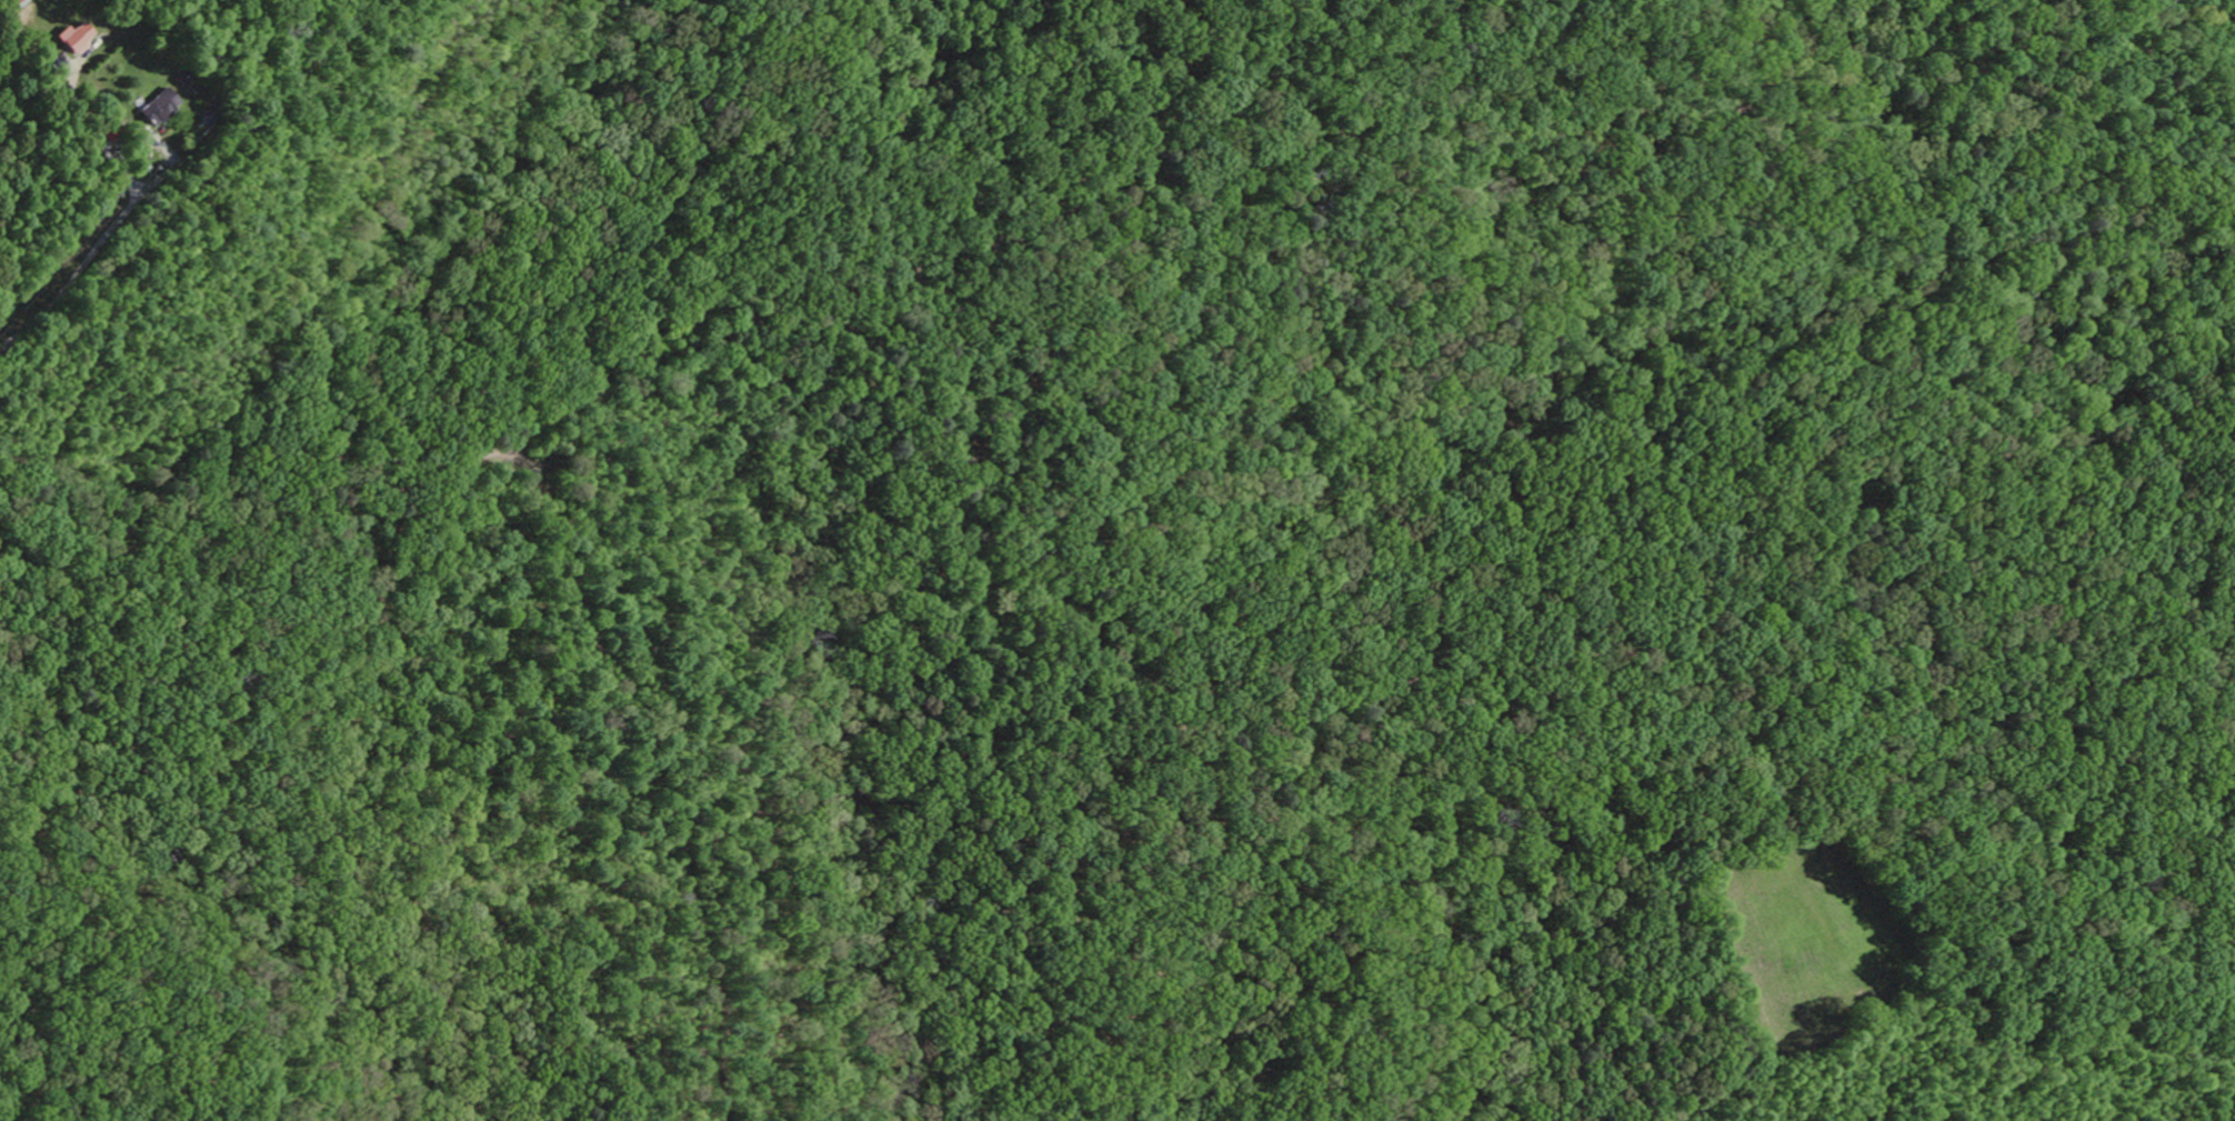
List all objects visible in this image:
road: (2217, 3)
building: (79, 39)
road: (1221, 92)
building: (167, 108)
road: (1171, 170)
road: (90, 256)
road: (233, 502)

